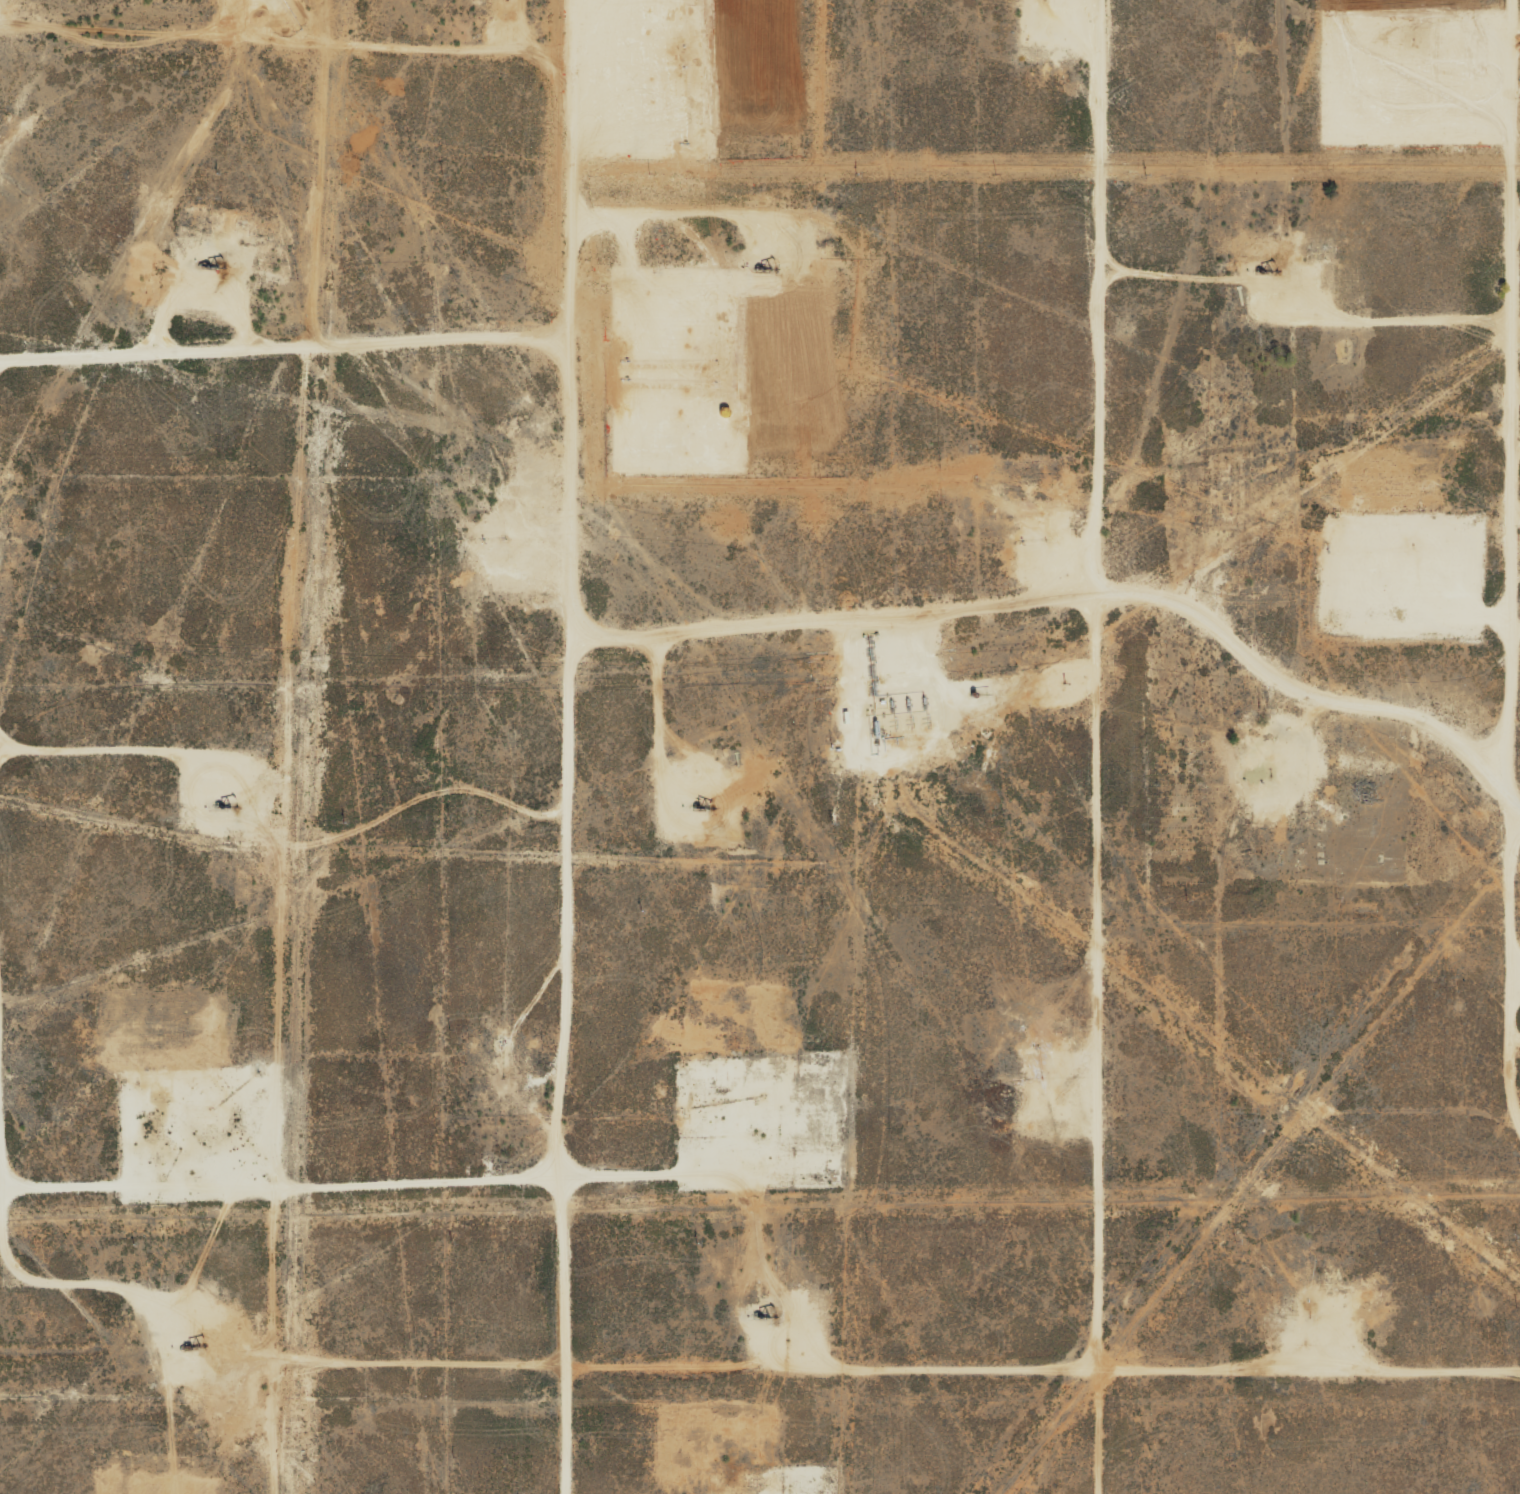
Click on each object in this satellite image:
road: (299, 44)
road: (1404, 317)
road: (294, 350)
road: (1083, 597)
road: (592, 746)
road: (1093, 747)
river: (413, 754)
road: (3, 898)

